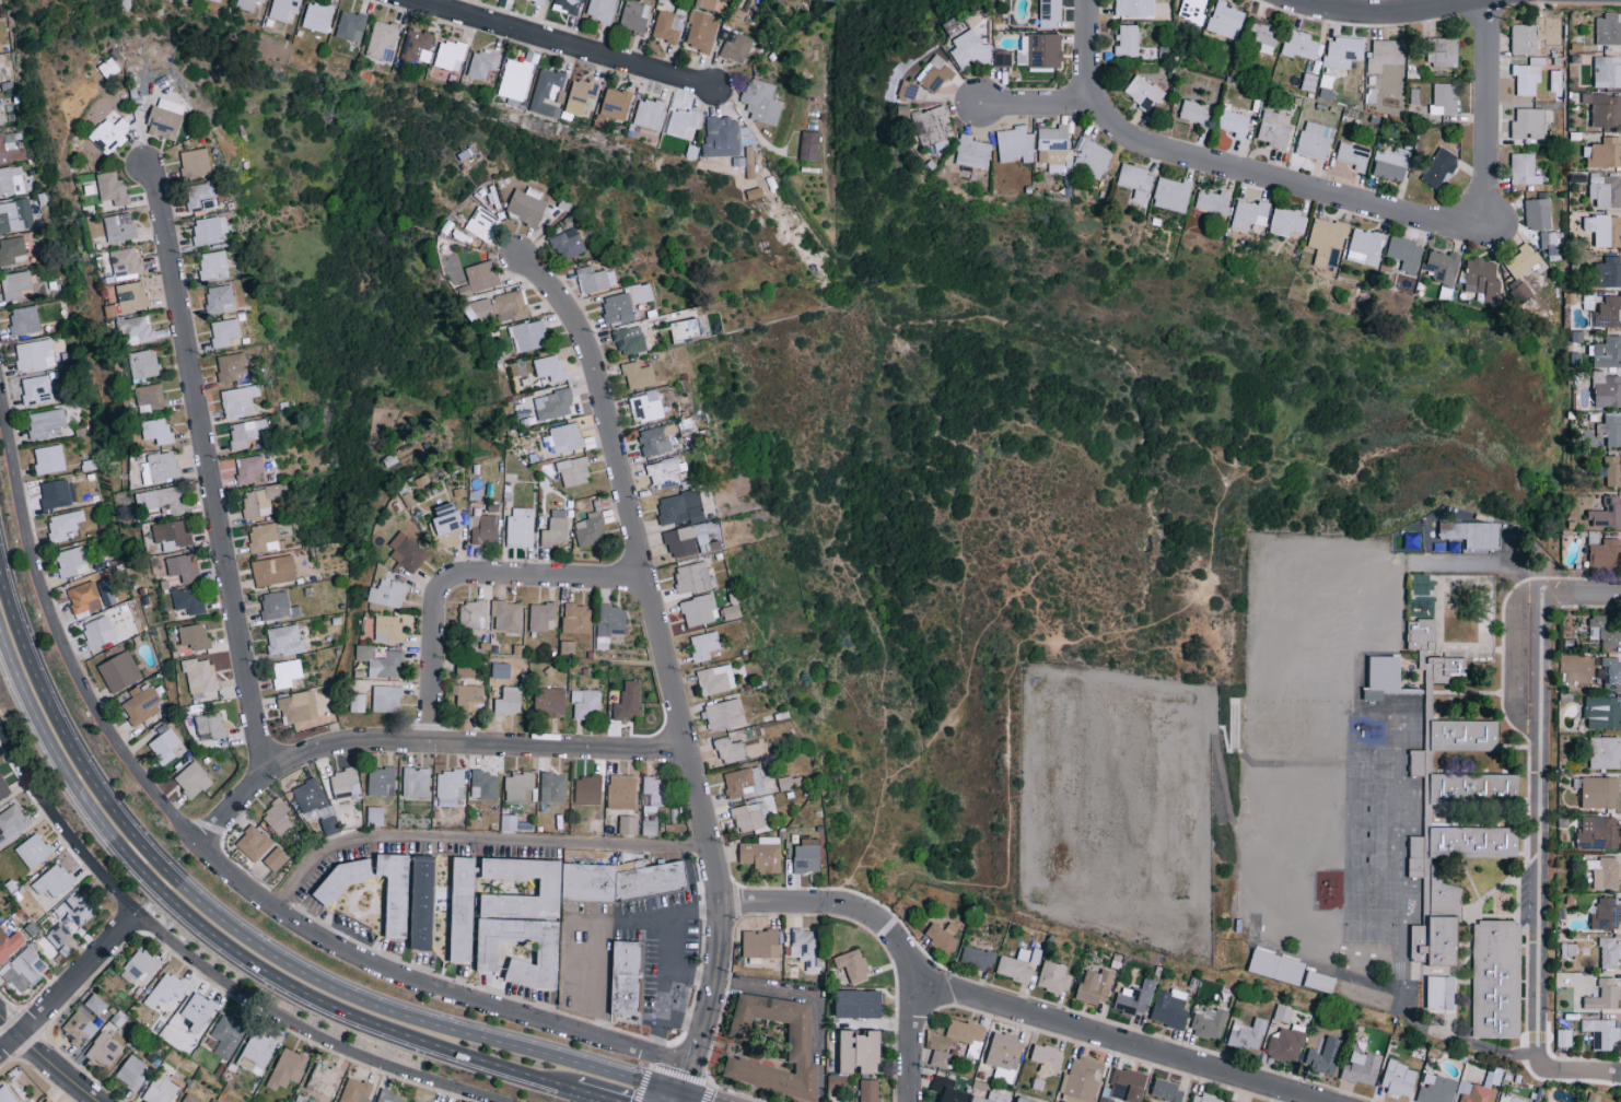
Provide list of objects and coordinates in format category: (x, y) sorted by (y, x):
building: (217, 0)
building: (539, 1)
building: (705, 3)
building: (247, 4)
building: (569, 4)
road: (1319, 5)
building: (1134, 8)
building: (282, 9)
building: (600, 10)
building: (1192, 10)
building: (1050, 13)
building: (634, 15)
building: (317, 16)
road: (1380, 16)
building: (1225, 20)
building: (350, 25)
building: (667, 25)
building: (1608, 28)
building: (701, 31)
building: (1537, 33)
building: (1262, 37)
building: (1128, 39)
building: (382, 40)
building: (1301, 45)
road: (558, 46)
building: (737, 47)
building: (415, 49)
building: (1040, 49)
building: (971, 50)
building: (1342, 51)
building: (1444, 51)
building: (1385, 54)
building: (450, 55)
building: (1002, 59)
building: (481, 63)
building: (108, 68)
building: (1607, 71)
building: (934, 74)
building: (1528, 75)
building: (515, 79)
building: (1328, 89)
building: (547, 90)
building: (1143, 92)
building: (580, 96)
building: (1444, 98)
building: (761, 101)
building: (616, 103)
road: (1038, 104)
building: (1605, 108)
building: (1193, 112)
building: (650, 113)
road: (1485, 114)
building: (0, 118)
building: (165, 118)
building: (681, 122)
building: (1234, 122)
building: (1528, 122)
building: (933, 127)
building: (1274, 128)
building: (722, 133)
building: (109, 134)
building: (1315, 139)
building: (809, 144)
building: (1015, 144)
building: (1054, 148)
building: (1, 149)
building: (972, 152)
building: (1605, 152)
building: (1353, 154)
building: (1092, 159)
building: (195, 163)
building: (1390, 163)
road: (1228, 167)
building: (1439, 167)
building: (1524, 168)
building: (11, 180)
building: (1135, 180)
building: (112, 188)
building: (1606, 190)
building: (1171, 194)
building: (200, 196)
building: (1213, 201)
building: (527, 206)
building: (1249, 213)
building: (1538, 213)
building: (15, 215)
building: (1287, 221)
building: (482, 224)
building: (119, 227)
building: (1601, 228)
building: (209, 231)
building: (1326, 237)
building: (568, 244)
building: (1550, 244)
building: (1364, 246)
building: (12, 250)
building: (1406, 254)
building: (1523, 259)
building: (126, 261)
building: (213, 265)
building: (1443, 266)
building: (1608, 271)
building: (481, 275)
building: (1482, 277)
building: (595, 279)
building: (15, 285)
building: (641, 292)
building: (131, 296)
building: (220, 298)
building: (500, 307)
building: (617, 308)
building: (112, 309)
building: (1609, 312)
building: (24, 320)
building: (136, 327)
building: (685, 329)
building: (224, 331)
building: (529, 335)
building: (629, 339)
building: (1608, 352)
building: (33, 354)
building: (143, 364)
building: (232, 364)
building: (550, 367)
building: (639, 375)
building: (36, 389)
building: (1609, 391)
building: (151, 396)
building: (240, 400)
building: (553, 403)
building: (646, 406)
building: (46, 423)
building: (156, 430)
building: (1613, 430)
building: (245, 433)
building: (565, 437)
building: (657, 438)
building: (48, 459)
building: (159, 467)
building: (249, 468)
building: (1612, 470)
building: (574, 471)
road: (207, 473)
building: (664, 473)
building: (57, 493)
building: (164, 499)
building: (260, 501)
building: (679, 507)
building: (1608, 513)
building: (447, 518)
building: (62, 525)
building: (520, 525)
building: (483, 529)
building: (556, 529)
building: (590, 529)
building: (1471, 535)
building: (263, 538)
building: (680, 541)
building: (407, 552)
building: (1606, 554)
building: (70, 562)
road: (1481, 562)
building: (183, 566)
building: (273, 570)
building: (691, 577)
road: (547, 582)
building: (1421, 584)
building: (388, 593)
road: (1579, 594)
building: (82, 598)
building: (188, 599)
building: (278, 606)
building: (698, 610)
building: (731, 611)
building: (471, 613)
building: (506, 614)
building: (541, 617)
building: (576, 619)
building: (609, 623)
building: (388, 628)
building: (104, 630)
building: (1605, 630)
building: (194, 635)
building: (284, 640)
building: (704, 645)
road: (1512, 657)
road: (434, 659)
building: (381, 661)
road: (662, 664)
building: (466, 670)
building: (119, 671)
building: (285, 672)
building: (1586, 672)
building: (1612, 672)
building: (1383, 673)
building: (199, 676)
building: (715, 679)
building: (467, 696)
building: (386, 699)
building: (509, 701)
building: (550, 701)
building: (628, 701)
building: (141, 703)
building: (586, 704)
building: (298, 707)
building: (1602, 712)
building: (724, 715)
building: (210, 726)
building: (163, 743)
road: (423, 743)
building: (728, 750)
building: (1605, 752)
building: (191, 779)
building: (381, 781)
building: (416, 782)
building: (743, 782)
building: (789, 782)
building: (345, 783)
building: (485, 785)
building: (518, 786)
building: (450, 787)
building: (553, 787)
building: (3, 788)
building: (587, 789)
building: (621, 792)
building: (1599, 793)
building: (653, 794)
building: (1468, 794)
building: (277, 817)
building: (750, 817)
road: (61, 822)
building: (12, 823)
building: (628, 824)
building: (329, 825)
building: (650, 825)
road: (1536, 825)
building: (1598, 833)
road: (475, 839)
building: (254, 843)
building: (33, 851)
building: (761, 854)
building: (807, 855)
building: (275, 858)
road: (215, 863)
building: (1603, 872)
building: (54, 880)
building: (650, 883)
building: (585, 886)
building: (397, 892)
building: (424, 902)
building: (81, 906)
building: (464, 910)
building: (1605, 914)
road: (617, 918)
building: (1239, 931)
road: (249, 934)
building: (59, 935)
building: (943, 936)
building: (760, 943)
building: (9, 945)
road: (221, 945)
building: (805, 947)
building: (1568, 949)
road: (581, 952)
building: (1609, 952)
building: (976, 958)
road: (667, 960)
building: (853, 964)
building: (139, 965)
building: (1015, 966)
building: (23, 970)
road: (689, 972)
road: (599, 977)
building: (1054, 977)
building: (1494, 983)
building: (1319, 984)
road: (68, 985)
road: (580, 986)
building: (1096, 986)
building: (166, 988)
road: (786, 992)
building: (1441, 993)
building: (625, 996)
building: (1605, 996)
building: (1134, 998)
building: (861, 1004)
road: (999, 1005)
building: (1169, 1008)
building: (1283, 1013)
road: (683, 1018)
building: (85, 1019)
building: (1208, 1022)
road: (876, 1023)
building: (175, 1024)
road: (300, 1028)
building: (965, 1031)
building: (1601, 1033)
building: (1248, 1034)
building: (228, 1035)
building: (1564, 1037)
road: (910, 1040)
building: (1286, 1044)
building: (798, 1048)
building: (104, 1050)
building: (256, 1052)
building: (861, 1052)
building: (1004, 1053)
road: (1517, 1054)
building: (1326, 1055)
building: (1048, 1057)
building: (941, 1058)
road: (44, 1060)
building: (287, 1068)
building: (1362, 1068)
road: (1575, 1070)
building: (131, 1072)
building: (323, 1079)
building: (1399, 1079)
building: (1082, 1080)
building: (837, 1082)
building: (1128, 1085)
building: (1436, 1089)
building: (160, 1090)
building: (870, 1090)
building: (948, 1090)
building: (355, 1091)
building: (1167, 1091)
traffic signals: (678, 1092)
building: (1474, 1092)
building: (7, 1094)
road: (593, 1095)
building: (389, 1097)
road: (676, 1097)
road: (695, 1097)
building: (988, 1098)
building: (1204, 1098)
building: (1596, 1098)
building: (189, 1099)
building: (1508, 1099)
building: (1023, 1100)
building: (1105, 1100)
building: (44, 1101)
building: (417, 1101)

